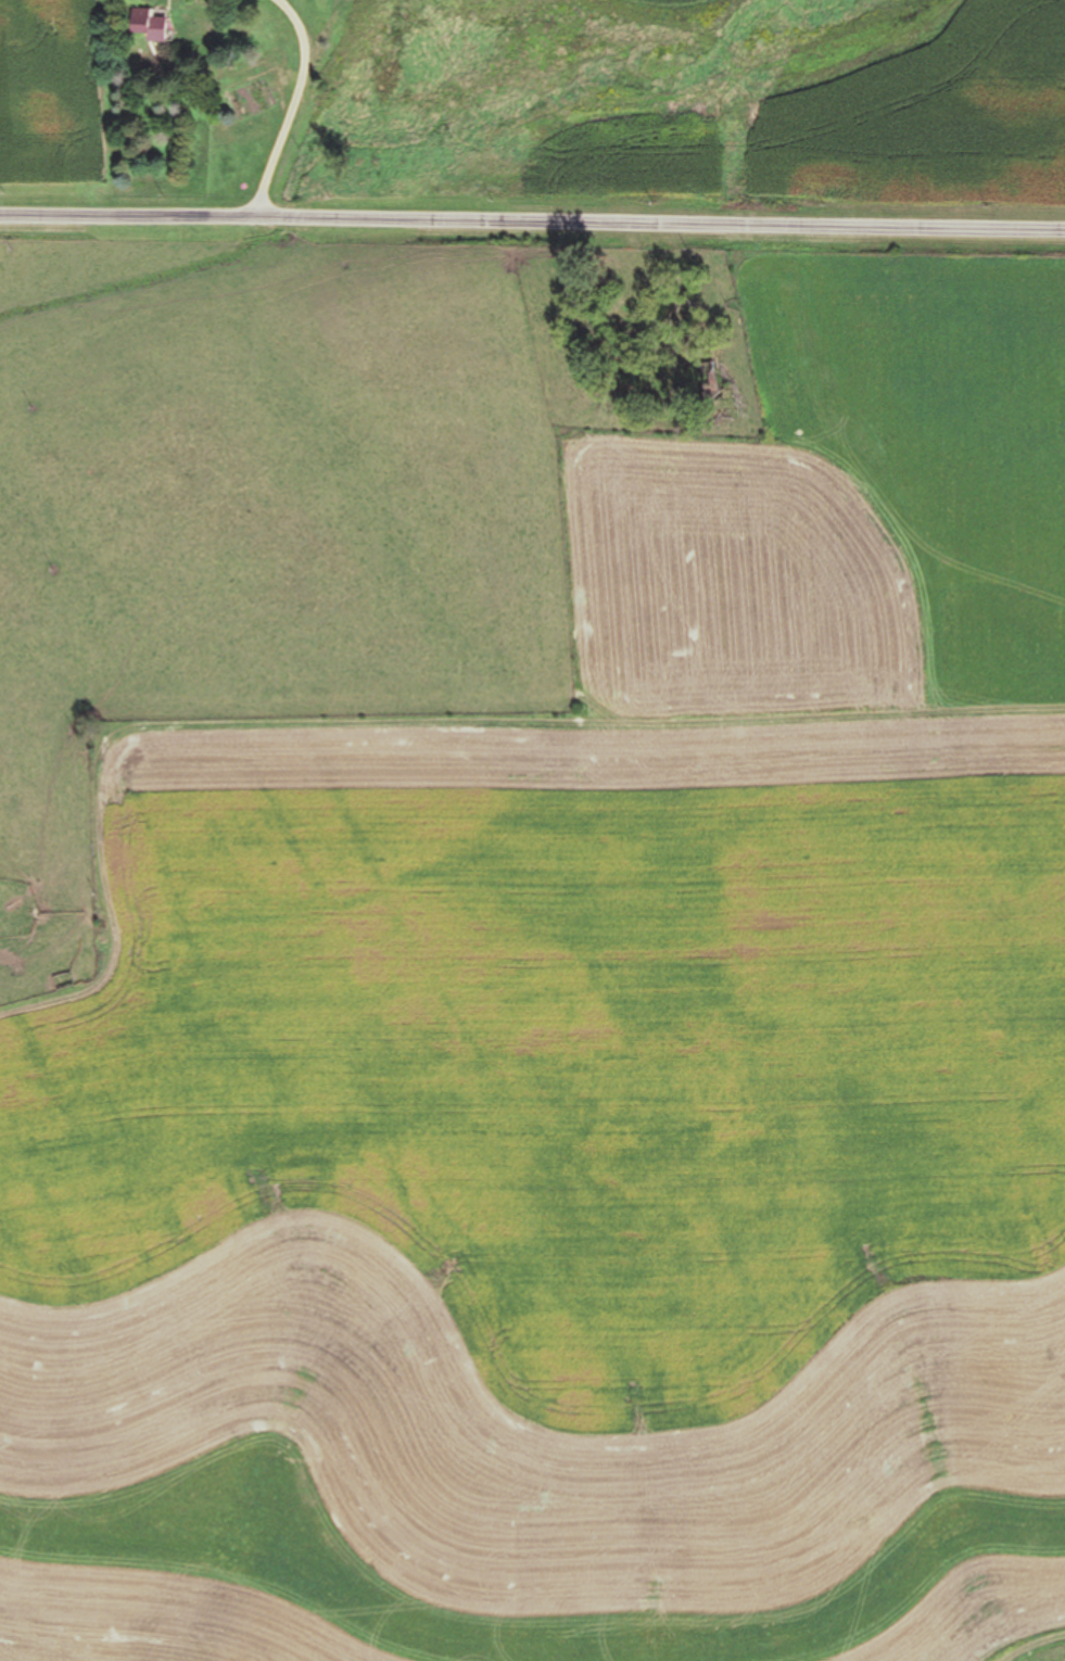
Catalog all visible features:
building: (145, 25)
road: (532, 203)

